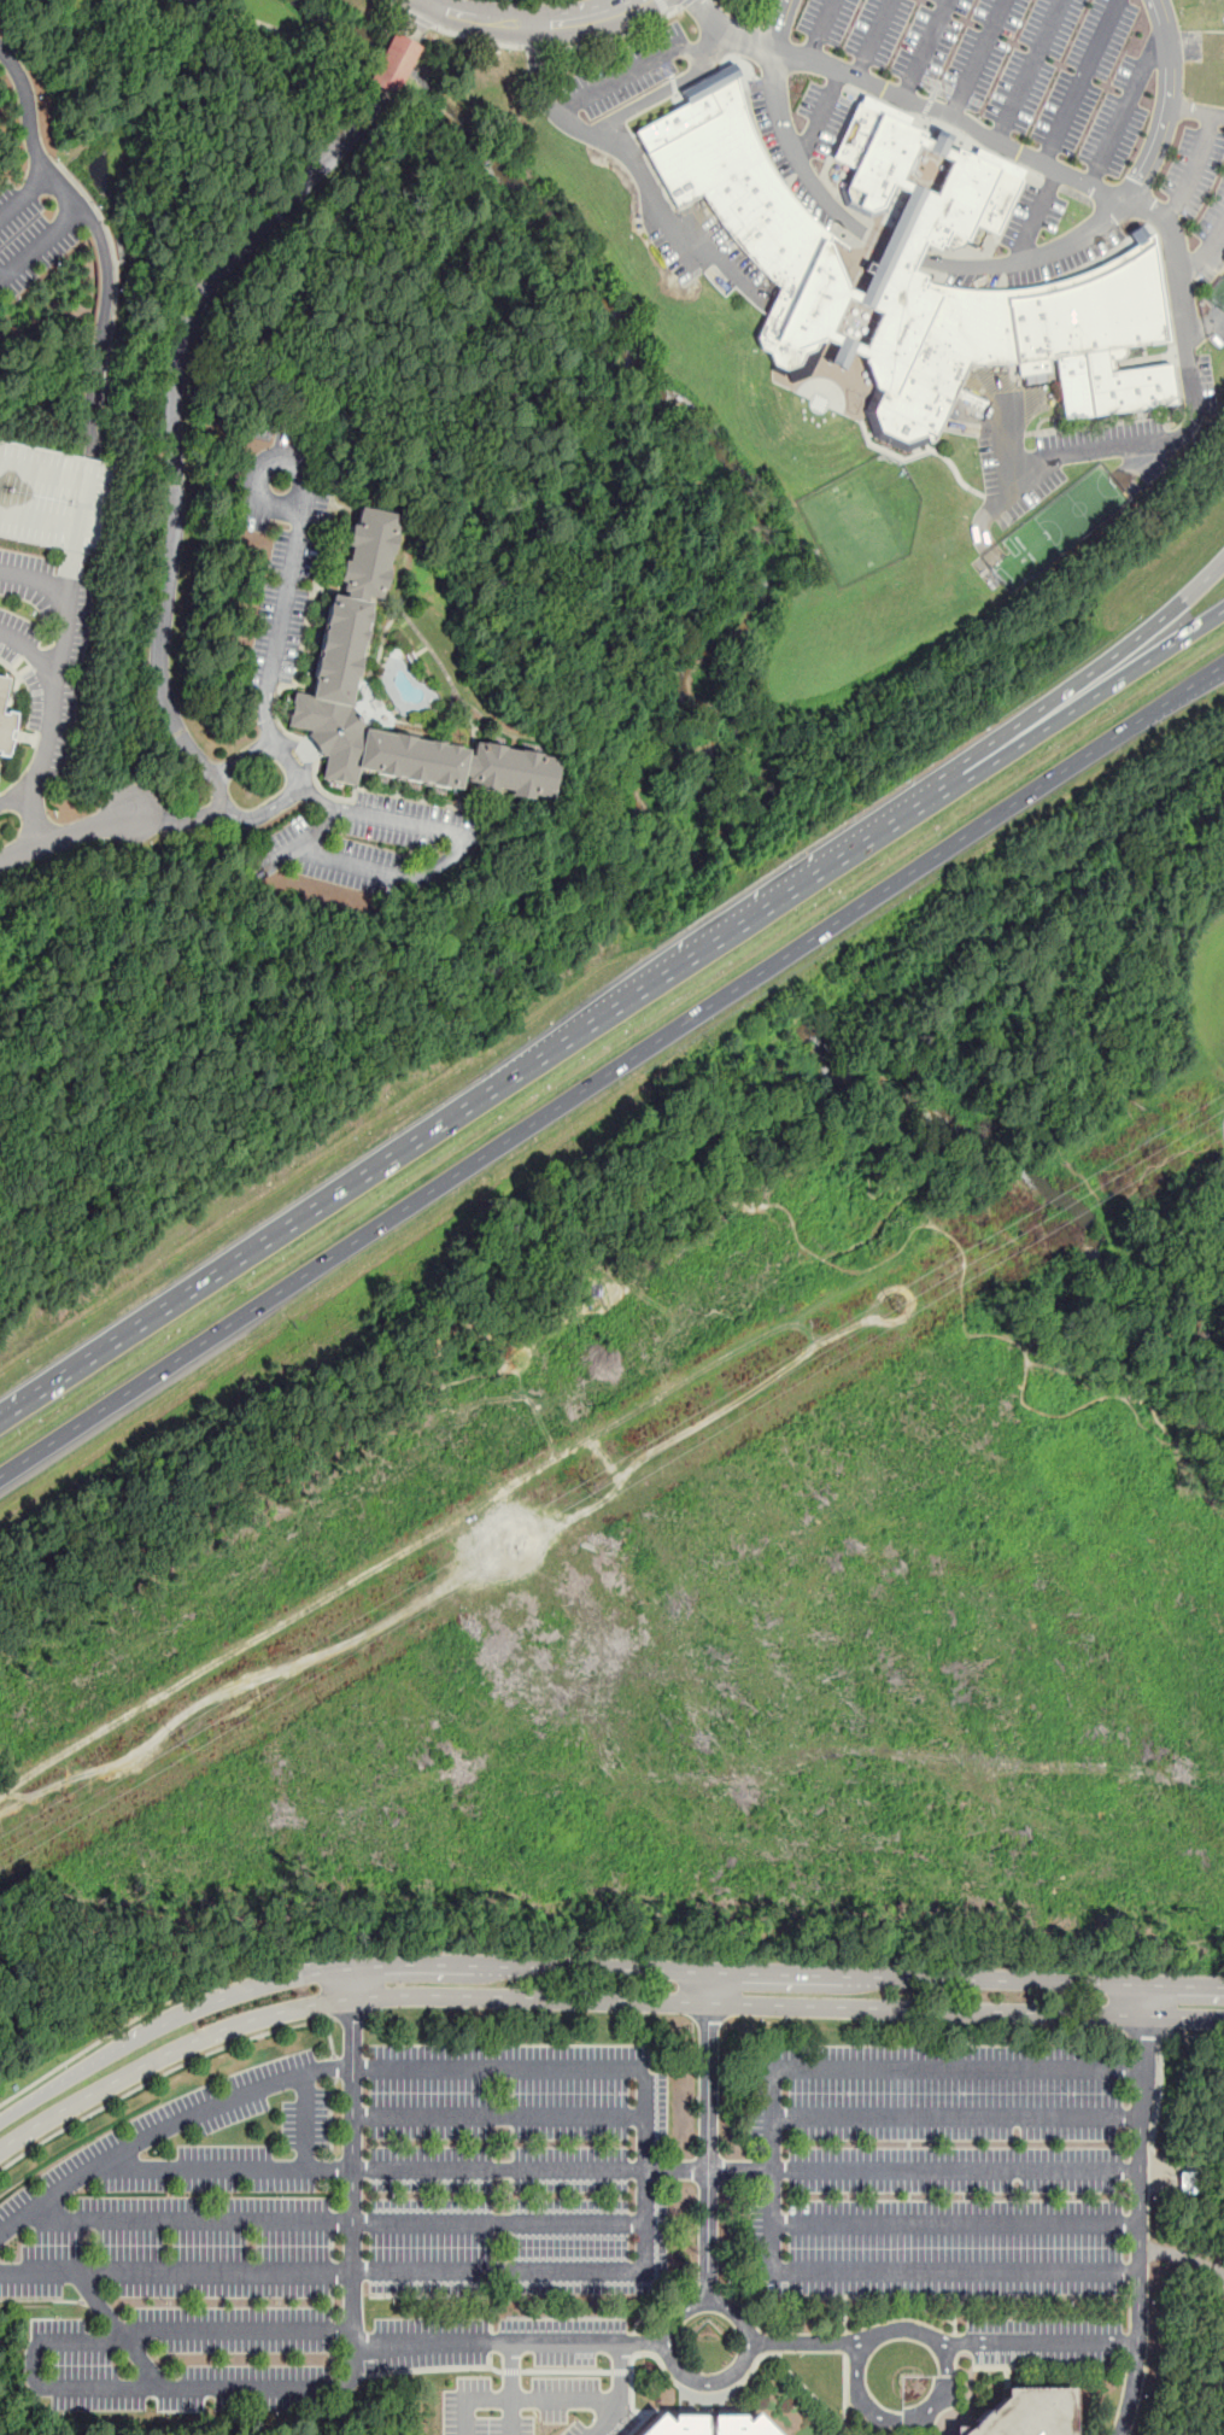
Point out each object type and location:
road: (685, 2)
building: (1202, 5)
road: (396, 6)
road: (664, 6)
road: (420, 19)
road: (420, 21)
road: (529, 23)
road: (783, 23)
road: (821, 29)
road: (730, 34)
road: (293, 35)
road: (617, 36)
road: (873, 39)
road: (480, 40)
road: (537, 48)
road: (925, 48)
road: (977, 59)
building: (1210, 62)
building: (396, 63)
road: (398, 63)
road: (535, 70)
road: (1029, 70)
road: (1079, 82)
road: (1126, 100)
road: (1195, 109)
road: (557, 111)
road: (821, 118)
road: (1054, 169)
road: (1194, 172)
road: (23, 193)
road: (664, 216)
road: (1037, 216)
road: (98, 236)
road: (40, 241)
road: (897, 248)
road: (1202, 254)
building: (798, 259)
road: (1183, 308)
road: (217, 321)
road: (140, 347)
road: (1077, 452)
road: (175, 462)
road: (1007, 484)
building: (52, 497)
parking garage: (52, 497)
road: (69, 595)
road: (282, 615)
road: (1119, 649)
building: (344, 650)
road: (27, 652)
road: (1120, 677)
building: (4, 720)
road: (42, 759)
road: (241, 759)
road: (288, 762)
road: (14, 796)
road: (265, 812)
road: (308, 835)
road: (70, 836)
road: (464, 843)
road: (754, 921)
road: (1056, 936)
road: (926, 974)
road: (611, 1069)
power tower: (1210, 1117)
road: (1223, 1128)
road: (245, 1260)
road: (908, 1293)
road: (433, 1330)
road: (591, 1391)
road: (440, 1586)
road: (10, 1664)
road: (593, 1967)
road: (593, 2001)
road: (134, 2018)
road: (330, 2038)
road: (1159, 2060)
road: (400, 2066)
road: (159, 2077)
road: (500, 2115)
road: (309, 2117)
road: (954, 2117)
road: (710, 2136)
road: (353, 2162)
road: (620, 2165)
road: (768, 2166)
parking lot: (954, 2183)
road: (1140, 2209)
road: (341, 2219)
road: (954, 2222)
parking lot: (347, 2236)
park: (1189, 2241)
road: (323, 2271)
road: (898, 2326)
road: (670, 2330)
road: (511, 2343)
road: (1038, 2345)
road: (804, 2346)
road: (34, 2367)
road: (473, 2398)
road: (567, 2398)
building: (1031, 2413)
road: (510, 2416)
road: (604, 2417)
road: (903, 2419)
building: (710, 2424)

